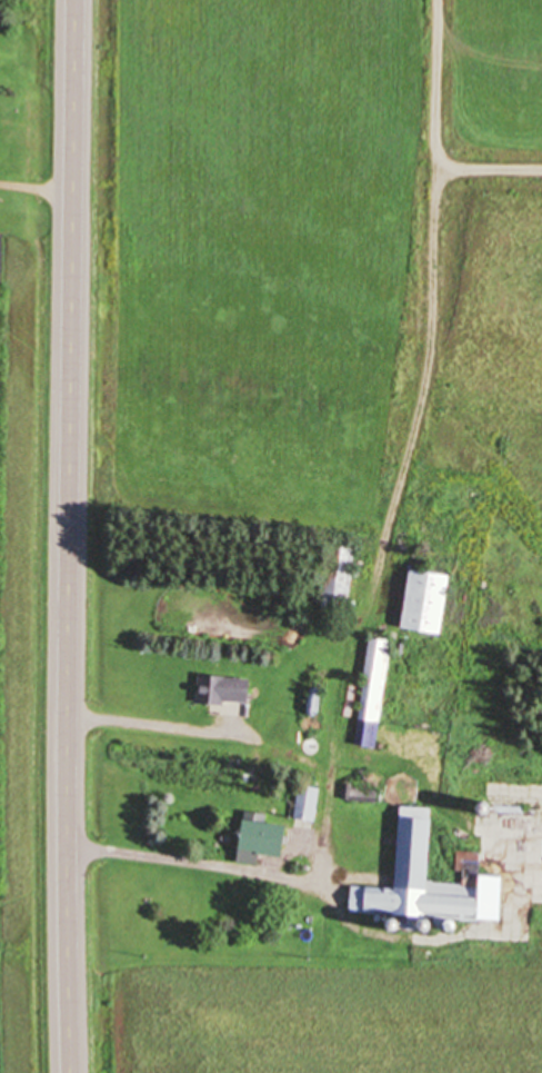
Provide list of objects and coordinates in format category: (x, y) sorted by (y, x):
road: (436, 139)
road: (36, 186)
road: (392, 525)
road: (68, 536)
building: (340, 575)
building: (429, 602)
building: (225, 691)
building: (375, 693)
road: (150, 725)
building: (309, 804)
building: (265, 841)
building: (415, 861)
road: (170, 862)

